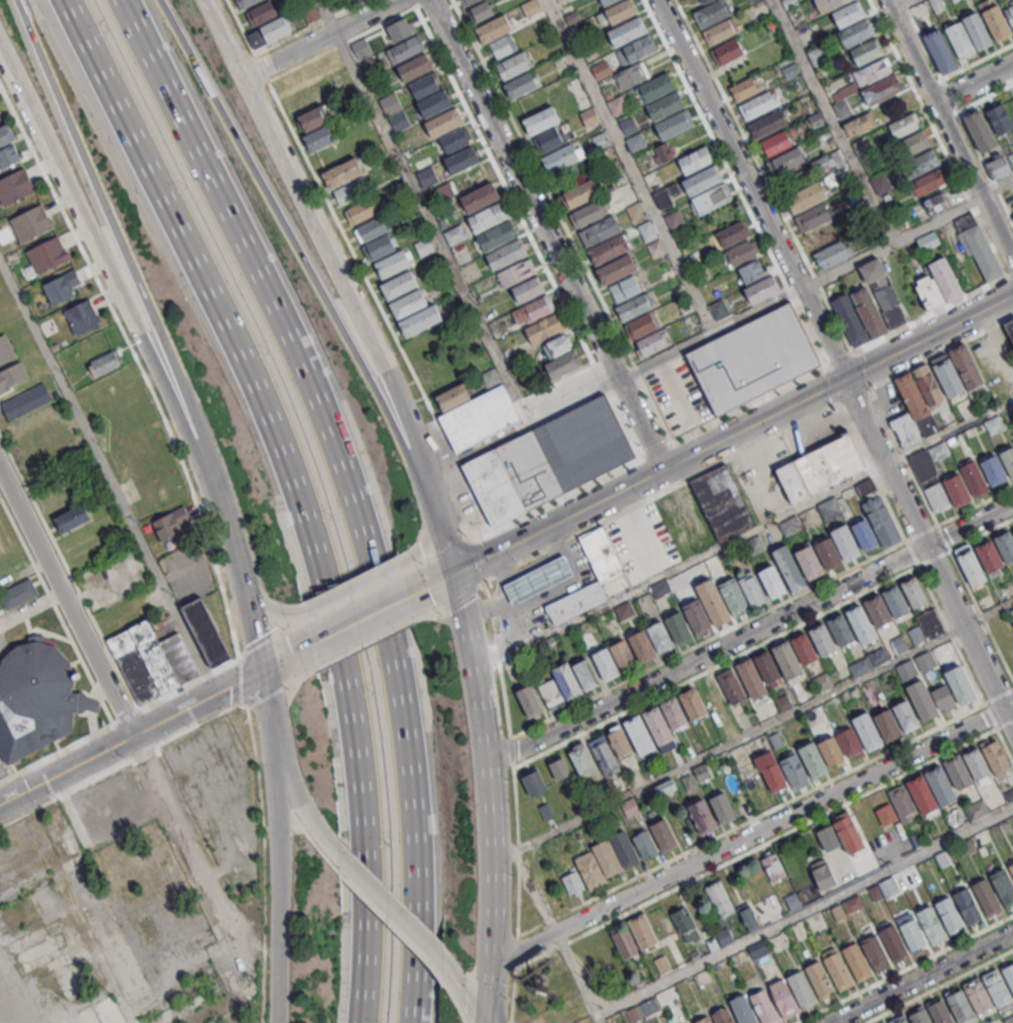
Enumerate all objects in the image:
building: (470, 1)
building: (704, 1)
building: (711, 1)
road: (906, 1)
building: (248, 3)
road: (412, 3)
road: (421, 3)
building: (828, 4)
road: (895, 6)
building: (531, 7)
building: (618, 9)
building: (481, 11)
building: (263, 12)
building: (848, 14)
building: (713, 15)
road: (326, 16)
building: (998, 24)
road: (307, 26)
road: (240, 27)
building: (495, 31)
building: (627, 31)
building: (269, 32)
building: (718, 32)
building: (978, 32)
building: (856, 33)
road: (223, 39)
road: (320, 39)
building: (961, 41)
road: (341, 43)
building: (635, 50)
building: (727, 51)
building: (866, 51)
building: (405, 52)
building: (942, 54)
road: (978, 62)
road: (260, 67)
building: (515, 67)
building: (417, 69)
building: (600, 69)
building: (872, 72)
building: (632, 75)
road: (973, 82)
road: (15, 85)
building: (424, 86)
building: (522, 87)
building: (655, 87)
building: (743, 89)
building: (882, 90)
road: (985, 97)
building: (759, 104)
building: (436, 105)
building: (665, 105)
building: (617, 106)
building: (394, 111)
road: (957, 111)
building: (589, 117)
building: (999, 118)
road: (832, 121)
building: (543, 122)
building: (767, 123)
building: (628, 124)
building: (674, 124)
building: (446, 125)
building: (904, 125)
building: (317, 127)
building: (979, 129)
road: (947, 131)
building: (6, 134)
road: (938, 137)
building: (550, 139)
building: (456, 142)
building: (776, 143)
building: (912, 145)
building: (663, 153)
building: (9, 156)
building: (562, 157)
building: (695, 160)
building: (464, 162)
building: (787, 165)
road: (630, 166)
building: (1001, 166)
building: (342, 172)
building: (923, 173)
road: (763, 175)
building: (473, 180)
building: (702, 180)
road: (734, 182)
building: (880, 185)
building: (14, 186)
road: (751, 189)
building: (581, 192)
building: (806, 197)
building: (483, 199)
building: (711, 199)
building: (936, 204)
building: (359, 211)
building: (588, 213)
building: (814, 216)
building: (1012, 216)
building: (488, 217)
road: (105, 220)
building: (964, 220)
road: (561, 221)
building: (30, 222)
road: (433, 227)
building: (371, 229)
road: (546, 234)
building: (732, 234)
building: (497, 235)
road: (907, 235)
road: (288, 237)
building: (603, 240)
building: (928, 240)
building: (379, 247)
building: (980, 251)
building: (46, 254)
building: (506, 254)
building: (742, 254)
building: (833, 254)
building: (394, 267)
building: (616, 269)
building: (875, 272)
building: (515, 273)
building: (751, 273)
road: (1012, 273)
road: (1008, 275)
building: (945, 278)
road: (113, 279)
building: (61, 286)
building: (400, 288)
building: (625, 288)
building: (528, 290)
building: (763, 290)
building: (928, 292)
road: (945, 305)
building: (634, 306)
building: (891, 306)
building: (409, 307)
building: (532, 311)
building: (868, 311)
building: (82, 316)
building: (850, 319)
road: (363, 320)
building: (421, 323)
building: (641, 325)
building: (544, 329)
building: (1010, 329)
road: (928, 337)
building: (652, 342)
road: (869, 344)
road: (941, 349)
building: (5, 350)
building: (561, 358)
building: (752, 358)
road: (838, 358)
building: (106, 362)
road: (137, 364)
building: (966, 367)
road: (859, 368)
building: (11, 375)
building: (947, 375)
building: (490, 378)
traffic signals: (843, 380)
road: (611, 382)
road: (831, 384)
building: (928, 384)
road: (854, 394)
building: (912, 395)
building: (26, 401)
building: (479, 418)
building: (994, 425)
building: (905, 430)
road: (949, 432)
building: (584, 442)
road: (648, 453)
building: (1007, 458)
building: (829, 463)
building: (993, 470)
road: (872, 471)
road: (108, 477)
building: (512, 478)
building: (973, 478)
building: (791, 481)
road: (627, 487)
building: (864, 487)
road: (293, 488)
road: (347, 489)
building: (957, 490)
road: (659, 491)
building: (935, 496)
building: (722, 503)
road: (974, 504)
building: (829, 507)
building: (72, 517)
building: (881, 521)
building: (171, 524)
building: (790, 525)
building: (1012, 529)
building: (1012, 532)
building: (863, 534)
road: (939, 534)
road: (980, 534)
building: (846, 542)
building: (755, 543)
building: (1005, 545)
road: (449, 547)
road: (911, 552)
building: (828, 553)
road: (928, 553)
road: (230, 555)
building: (601, 555)
building: (990, 555)
road: (933, 557)
road: (477, 560)
building: (809, 562)
road: (679, 566)
building: (969, 566)
building: (788, 568)
road: (68, 573)
traffic signals: (455, 573)
road: (371, 576)
building: (771, 581)
building: (540, 582)
road: (253, 588)
building: (750, 588)
building: (914, 592)
building: (17, 593)
road: (354, 594)
road: (463, 595)
building: (733, 596)
building: (895, 600)
road: (69, 601)
building: (577, 604)
road: (31, 606)
building: (716, 606)
building: (877, 610)
road: (988, 614)
building: (698, 618)
road: (359, 621)
building: (861, 624)
building: (930, 624)
building: (678, 627)
building: (840, 631)
building: (206, 632)
road: (951, 633)
road: (749, 634)
building: (660, 637)
road: (707, 638)
building: (821, 639)
road: (261, 643)
road: (363, 643)
building: (642, 646)
building: (804, 648)
building: (622, 655)
road: (498, 659)
building: (786, 659)
building: (152, 661)
building: (605, 664)
road: (715, 665)
building: (766, 666)
traffic signals: (262, 671)
building: (585, 674)
building: (750, 678)
building: (567, 681)
road: (242, 682)
building: (961, 685)
building: (731, 686)
road: (219, 691)
building: (551, 693)
road: (266, 695)
building: (36, 697)
building: (943, 698)
building: (529, 700)
building: (922, 700)
building: (692, 703)
building: (672, 713)
building: (906, 715)
road: (989, 715)
road: (119, 719)
road: (270, 722)
building: (887, 724)
building: (658, 725)
building: (867, 731)
building: (638, 734)
road: (738, 739)
building: (619, 742)
building: (848, 742)
road: (1004, 745)
road: (510, 751)
building: (830, 751)
building: (603, 756)
building: (995, 756)
building: (579, 757)
building: (813, 760)
road: (122, 761)
building: (976, 763)
road: (256, 767)
building: (559, 767)
road: (486, 768)
road: (66, 770)
building: (795, 771)
building: (957, 771)
building: (773, 777)
building: (533, 781)
building: (940, 784)
building: (755, 786)
building: (921, 793)
building: (1008, 794)
building: (903, 803)
building: (723, 808)
building: (976, 809)
road: (765, 812)
building: (701, 816)
road: (311, 817)
road: (277, 828)
road: (298, 829)
building: (848, 832)
building: (663, 834)
road: (751, 836)
building: (828, 837)
building: (916, 839)
building: (644, 843)
road: (764, 843)
building: (623, 848)
building: (966, 849)
road: (321, 852)
road: (502, 857)
building: (607, 858)
building: (943, 860)
road: (517, 866)
building: (773, 867)
building: (1011, 868)
building: (589, 870)
building: (823, 873)
building: (571, 882)
building: (1003, 886)
building: (889, 887)
road: (534, 892)
building: (875, 892)
building: (986, 896)
building: (718, 897)
road: (277, 898)
building: (853, 903)
building: (967, 904)
road: (804, 910)
building: (838, 912)
road: (394, 913)
building: (948, 913)
building: (749, 918)
building: (683, 920)
building: (931, 924)
road: (263, 925)
road: (395, 929)
building: (642, 930)
building: (724, 934)
building: (913, 936)
building: (624, 942)
building: (893, 942)
building: (759, 948)
building: (605, 951)
building: (875, 953)
building: (857, 961)
building: (662, 963)
road: (903, 968)
building: (838, 971)
building: (1008, 976)
road: (577, 977)
building: (818, 977)
road: (922, 977)
road: (938, 985)
building: (996, 987)
road: (463, 989)
road: (486, 989)
building: (801, 989)
road: (512, 995)
building: (977, 995)
building: (783, 998)
road: (456, 1004)
building: (649, 1006)
building: (960, 1006)
building: (764, 1007)
building: (742, 1009)
building: (939, 1012)
traffic signals: (482, 1013)
building: (633, 1014)
building: (722, 1016)
building: (919, 1016)
road: (481, 1018)
road: (484, 1018)
building: (898, 1019)
building: (1008, 1019)
building: (704, 1020)
road: (510, 1021)
building: (883, 1022)

